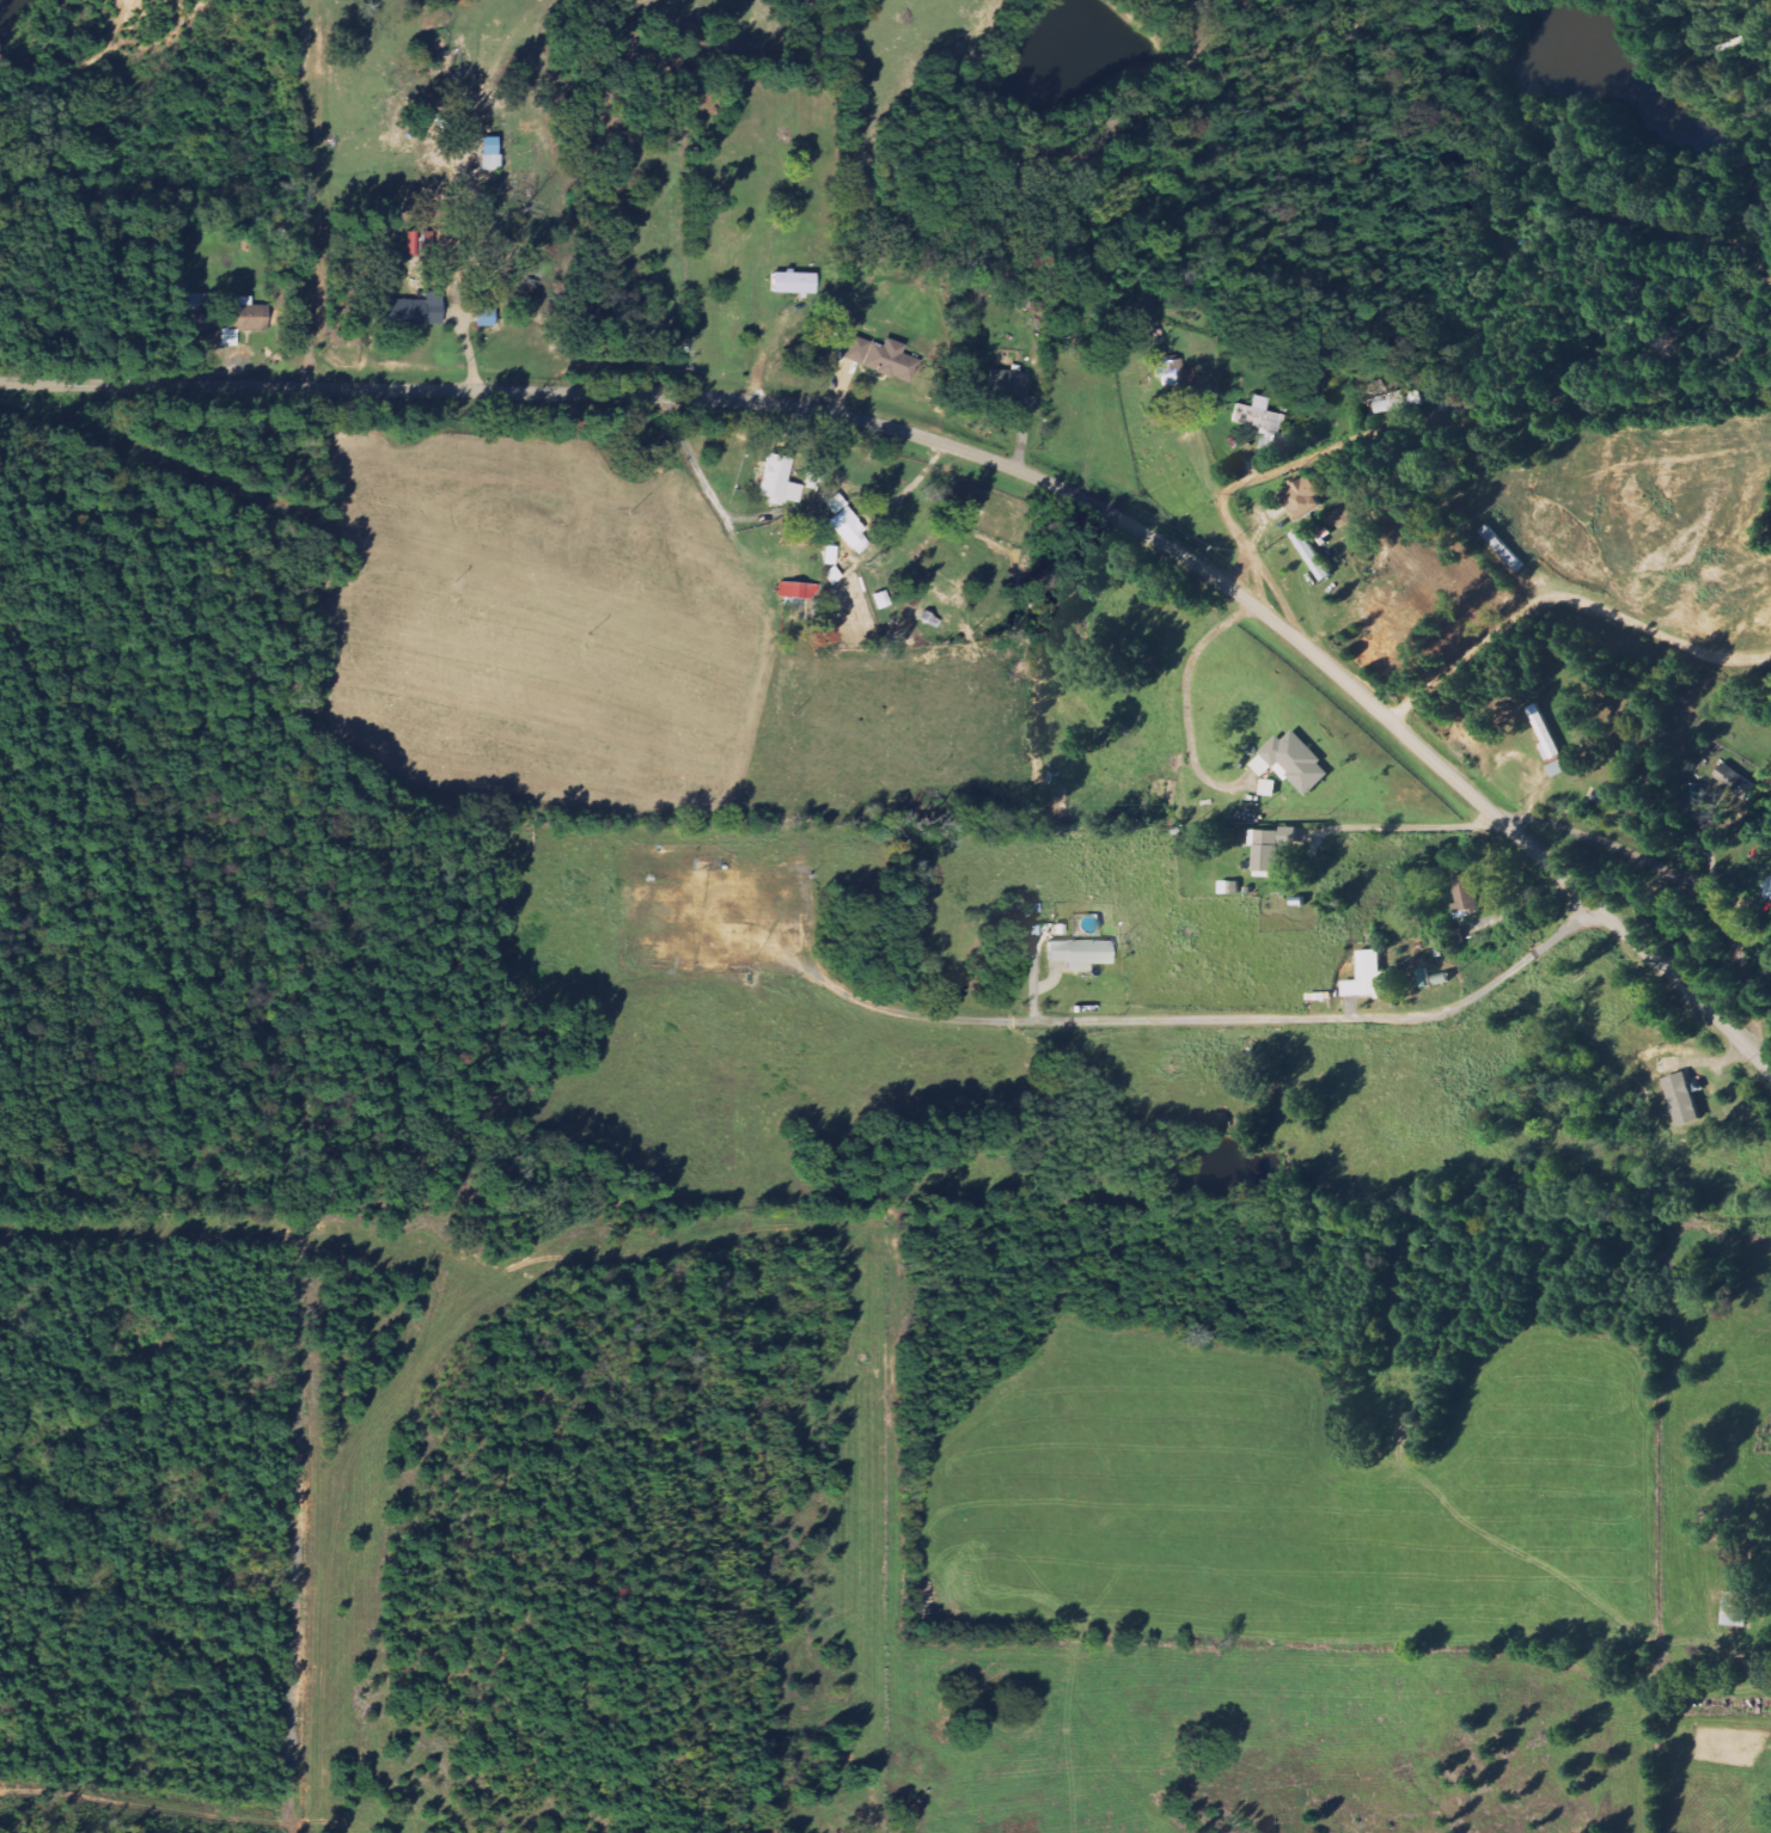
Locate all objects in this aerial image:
building: (792, 282)
building: (414, 310)
building: (244, 314)
building: (483, 317)
building: (227, 337)
building: (879, 358)
building: (1008, 381)
building: (1259, 418)
road: (990, 458)
road: (1250, 477)
building: (776, 481)
building: (1303, 497)
building: (847, 525)
building: (1312, 555)
building: (795, 589)
building: (880, 599)
building: (938, 604)
building: (1294, 762)
building: (1735, 780)
building: (1604, 798)
building: (1272, 848)
road: (1680, 878)
building: (1767, 886)
building: (1230, 887)
building: (1465, 892)
building: (1077, 953)
building: (1368, 976)
road: (1323, 1016)
building: (1683, 1099)
building: (1735, 1609)

